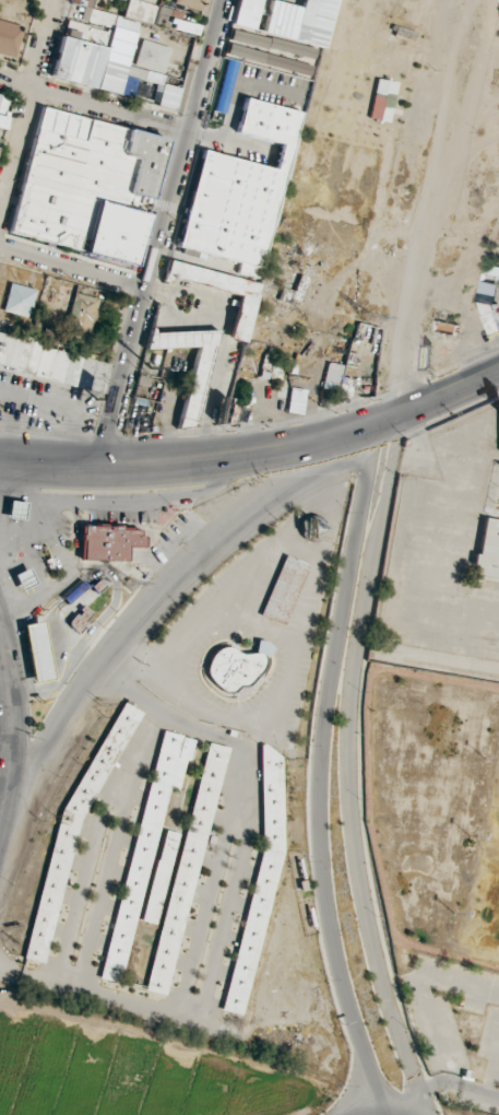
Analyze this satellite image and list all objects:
road: (158, 240)
road: (448, 385)
road: (447, 411)
crop: (131, 1071)

